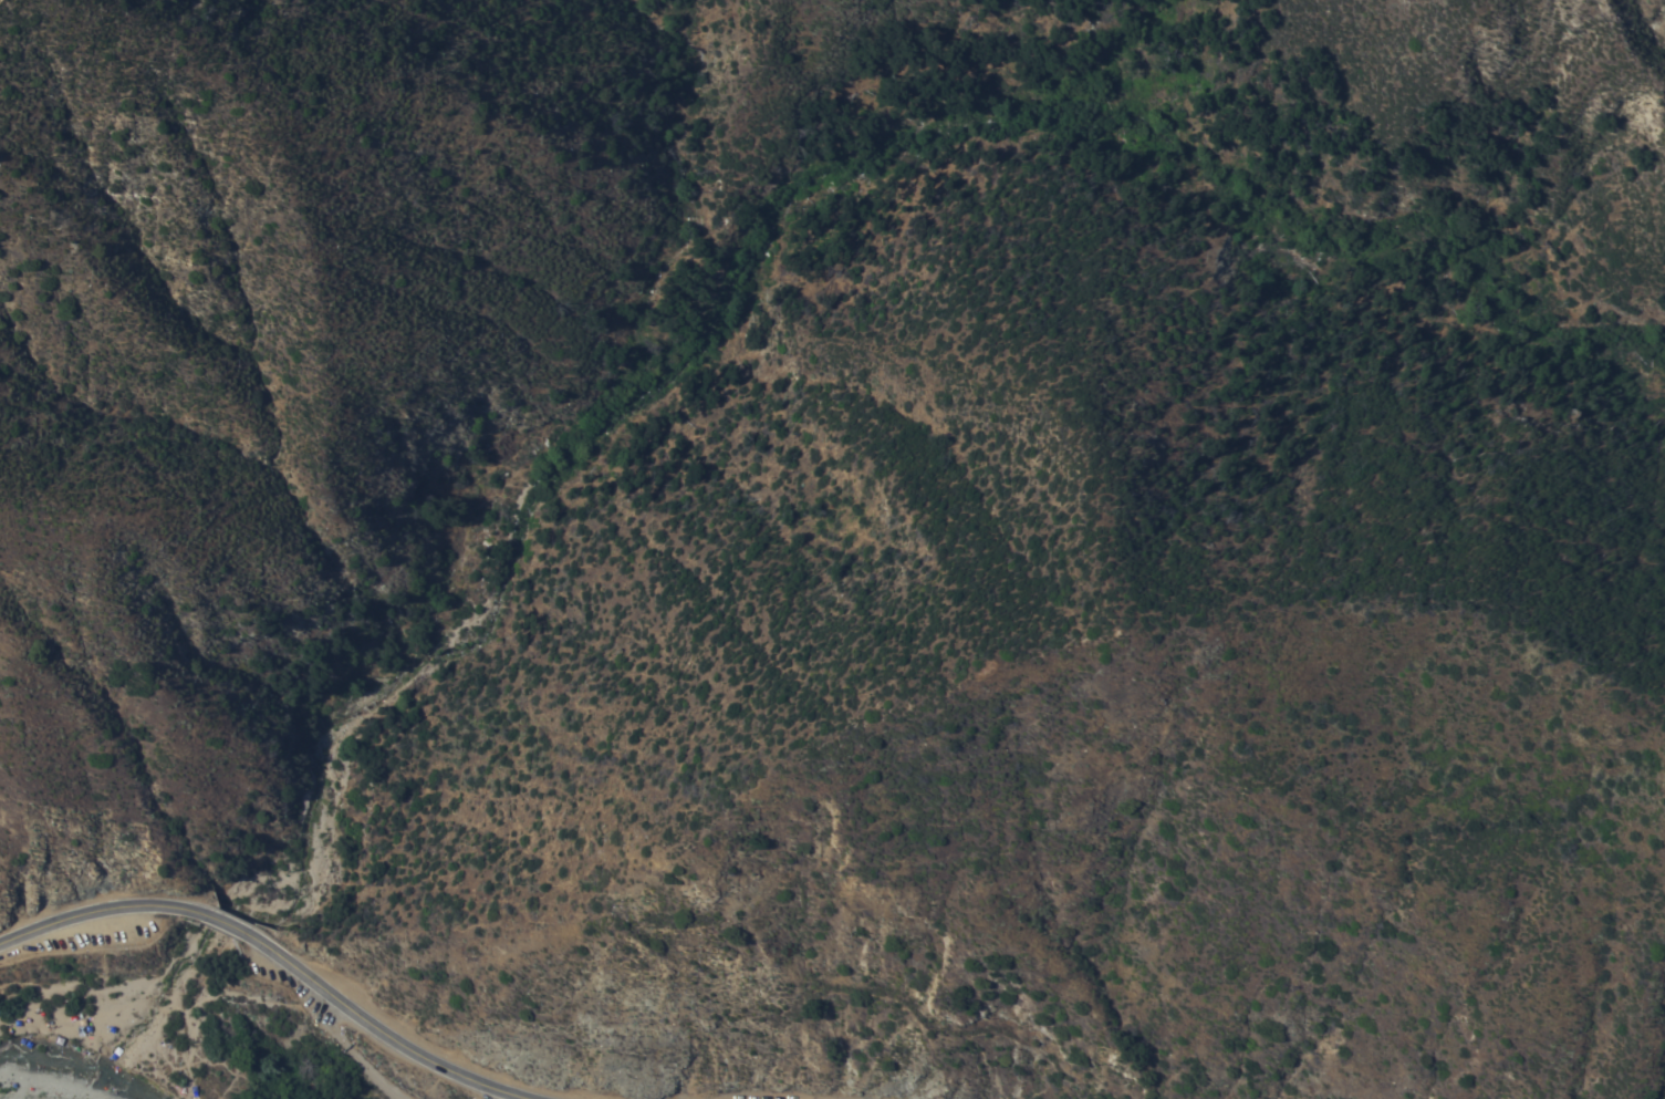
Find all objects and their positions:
road: (95, 911)
road: (225, 922)
road: (383, 1031)
road: (339, 1039)

